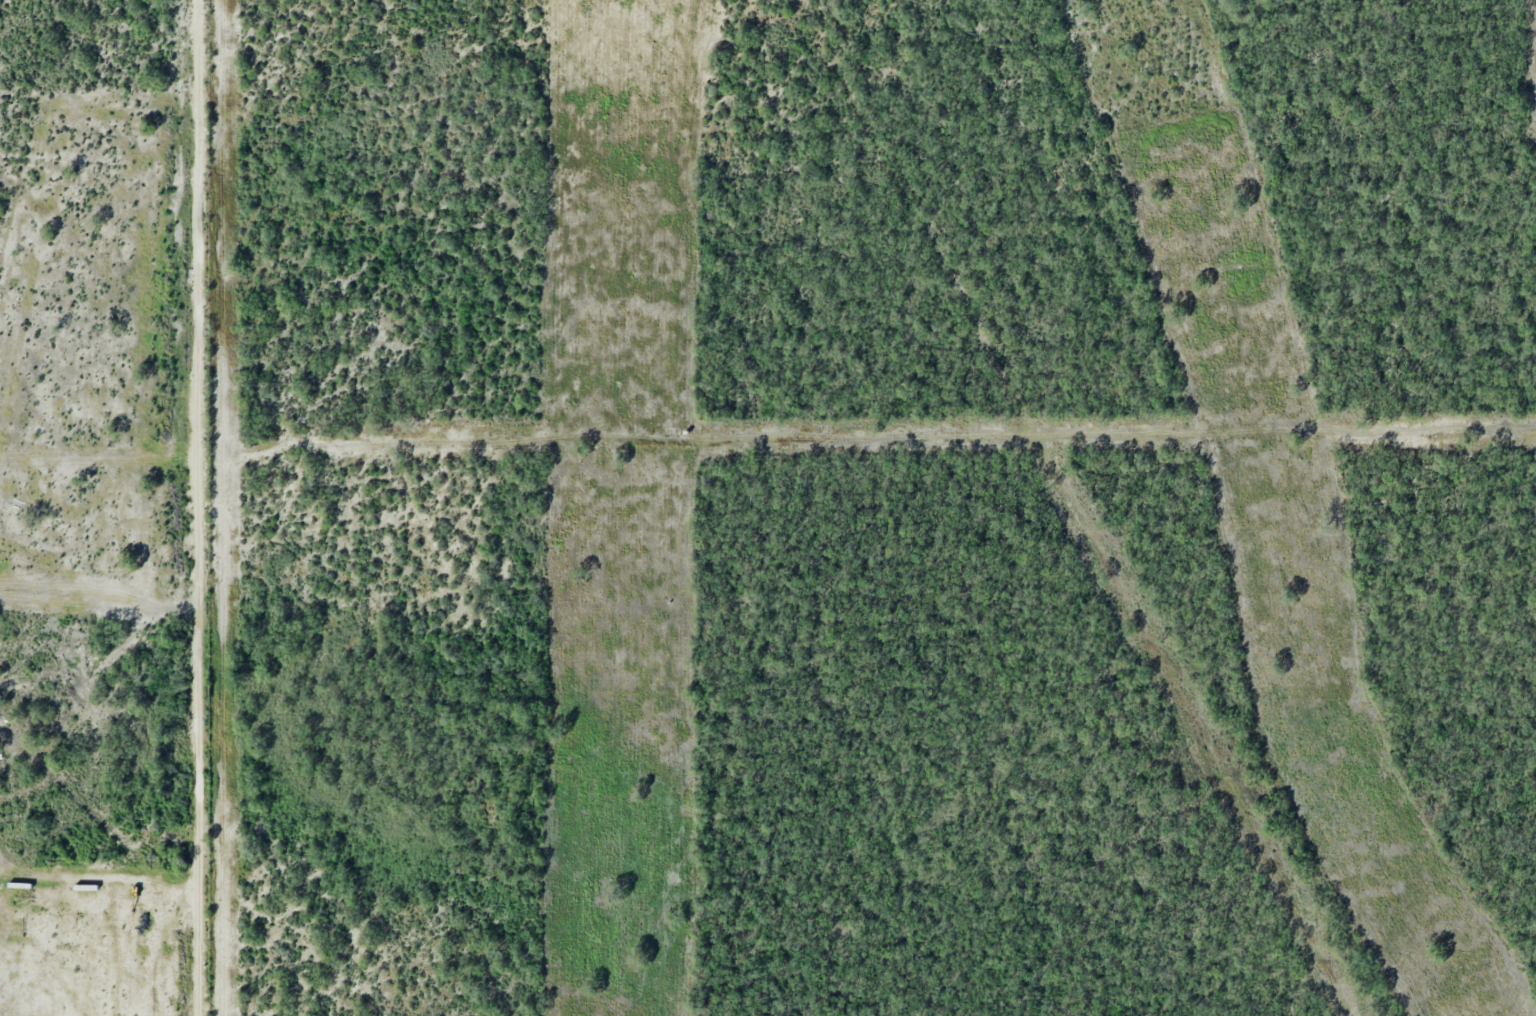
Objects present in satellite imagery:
road: (193, 508)

